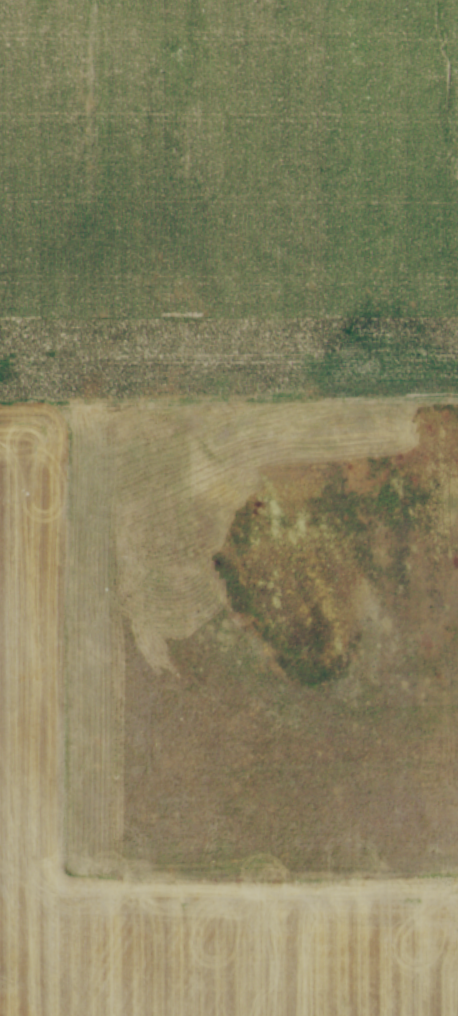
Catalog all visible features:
crop: (229, 508)

